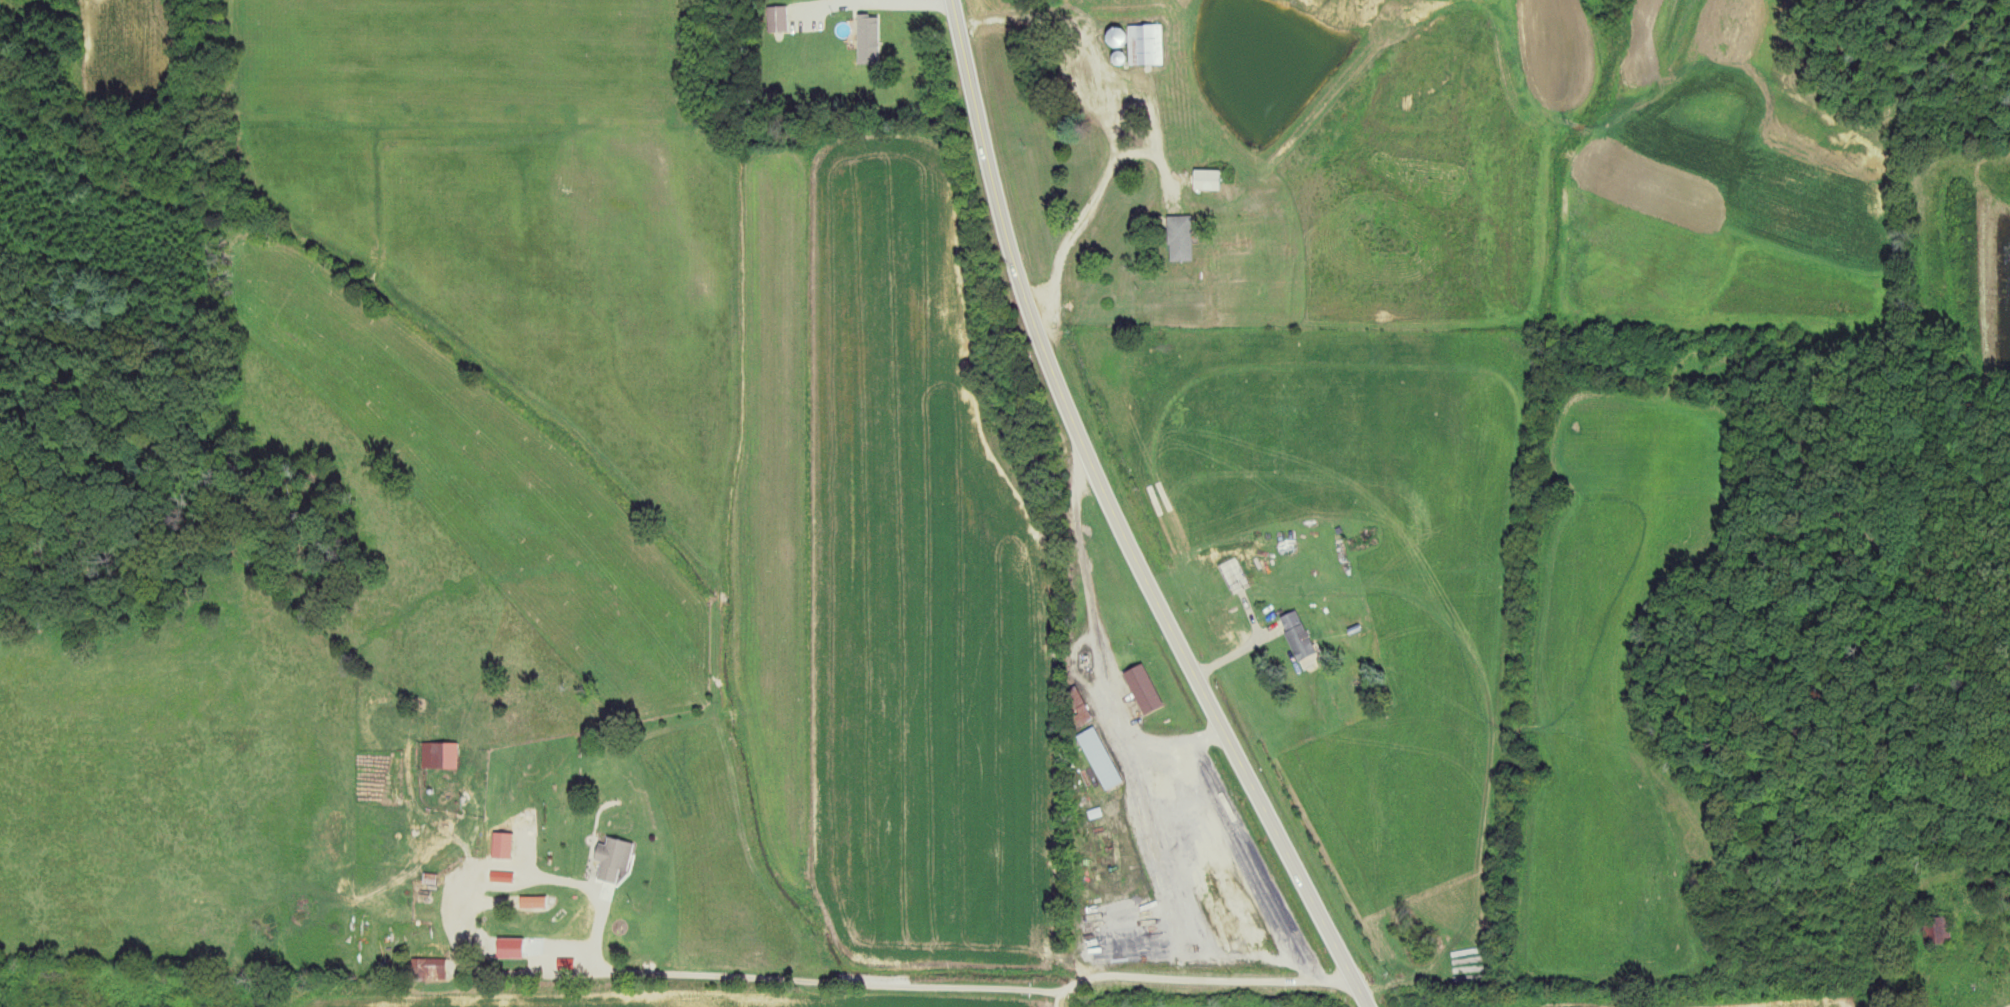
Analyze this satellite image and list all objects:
road: (929, 0)
road: (817, 5)
building: (778, 20)
building: (868, 33)
building: (1147, 45)
building: (1209, 179)
road: (1080, 231)
building: (1182, 238)
road: (1115, 520)
building: (1238, 574)
road: (1101, 641)
building: (1301, 642)
building: (1144, 690)
building: (442, 756)
building: (1100, 758)
building: (503, 846)
building: (502, 881)
building: (1946, 931)
building: (1124, 933)
building: (605, 936)
building: (429, 969)
road: (965, 989)
road: (1058, 1000)
road: (2009, 1006)

